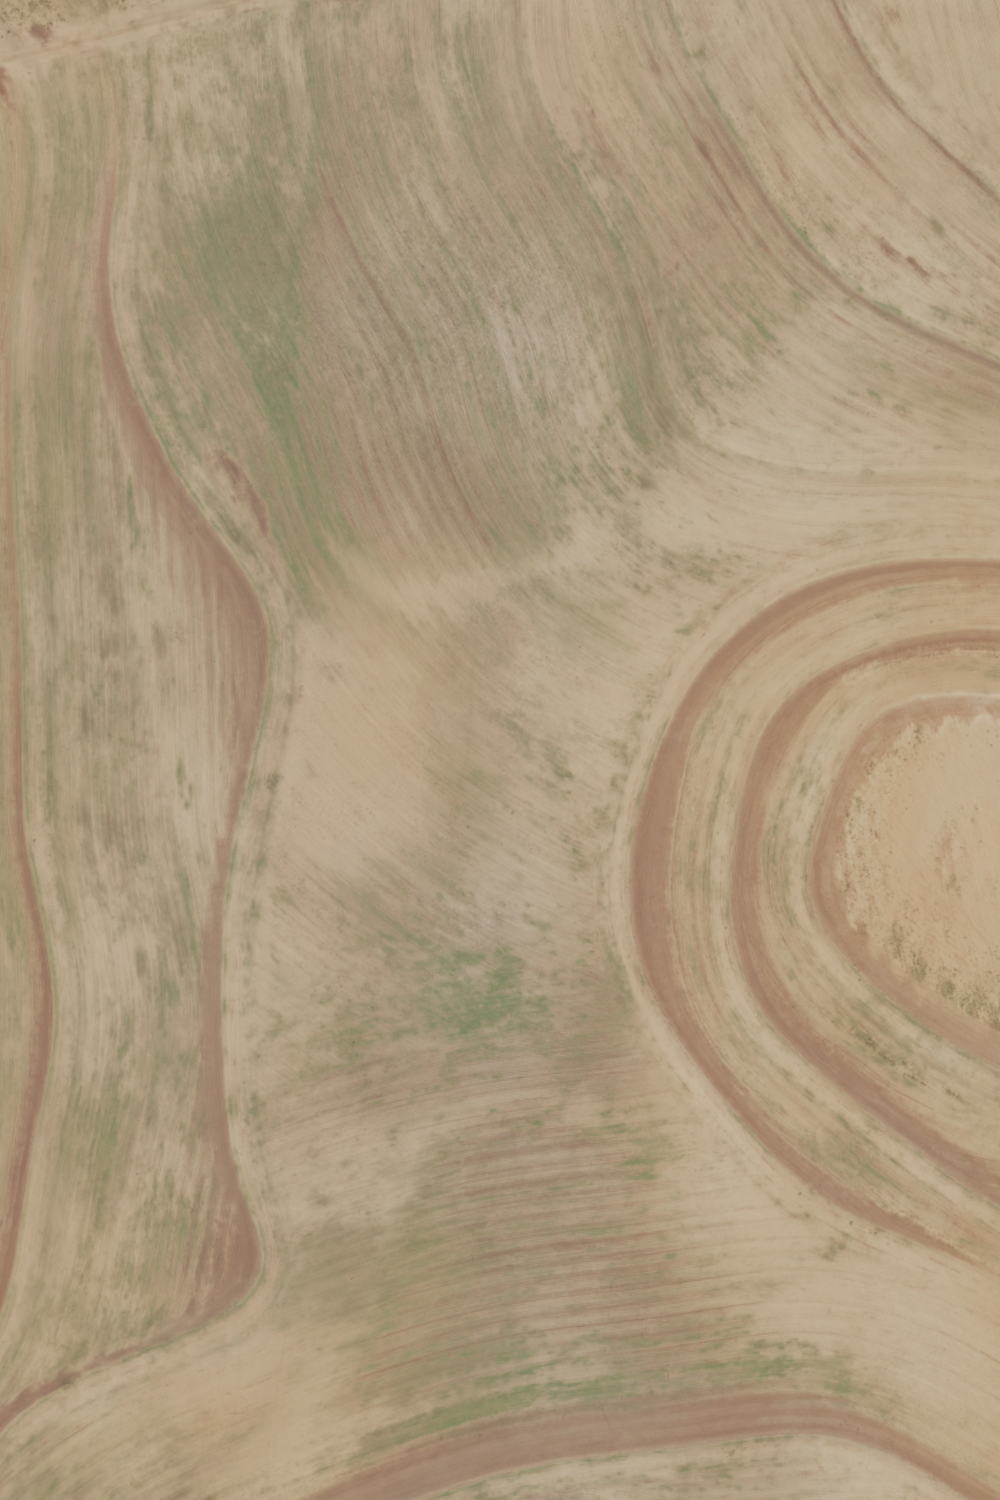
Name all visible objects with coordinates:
road: (147, 38)

